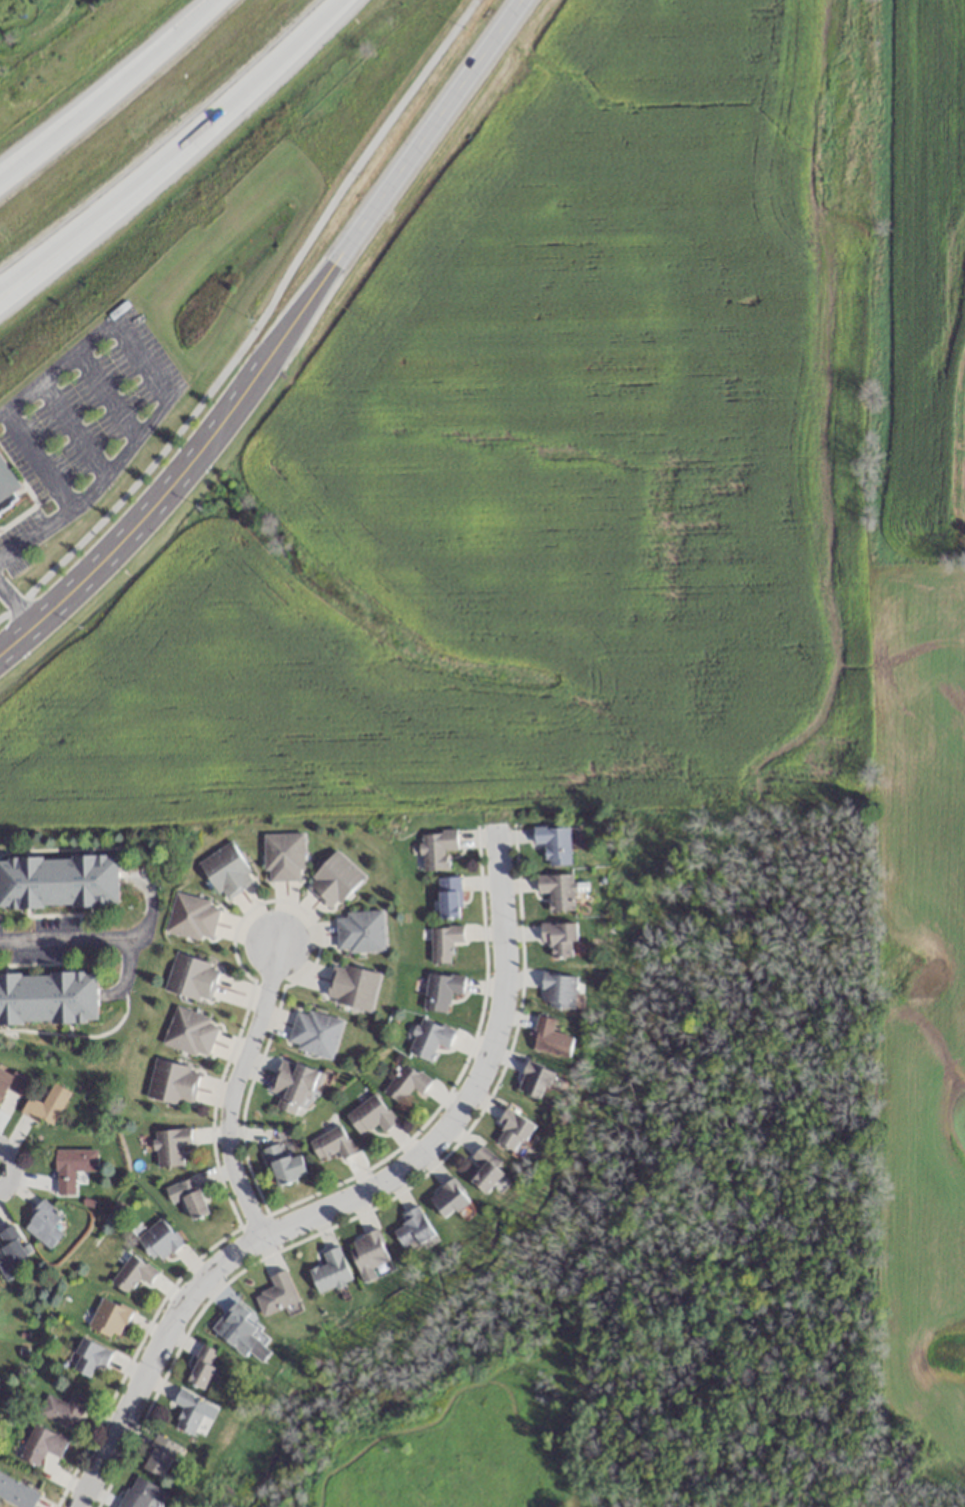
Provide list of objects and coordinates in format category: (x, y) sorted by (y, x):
road: (108, 93)
road: (175, 156)
road: (251, 320)
road: (106, 327)
road: (284, 343)
building: (6, 484)
building: (0, 528)
crop: (609, 529)
road: (36, 533)
road: (16, 605)
building: (554, 843)
building: (436, 849)
building: (283, 857)
building: (226, 871)
building: (58, 881)
building: (334, 881)
building: (557, 891)
building: (448, 897)
building: (192, 917)
building: (360, 932)
building: (559, 938)
road: (103, 939)
building: (443, 943)
road: (125, 974)
building: (191, 978)
building: (353, 987)
building: (558, 990)
building: (441, 991)
building: (48, 997)
building: (189, 1032)
building: (314, 1033)
building: (428, 1038)
building: (550, 1038)
building: (535, 1080)
building: (11, 1082)
building: (172, 1082)
building: (405, 1082)
building: (293, 1087)
road: (235, 1089)
building: (46, 1104)
building: (370, 1115)
building: (513, 1130)
building: (331, 1143)
building: (170, 1146)
building: (284, 1165)
road: (9, 1168)
building: (72, 1168)
building: (486, 1169)
road: (348, 1196)
building: (191, 1199)
building: (448, 1199)
building: (44, 1224)
building: (412, 1228)
park: (645, 1230)
building: (159, 1240)
building: (11, 1252)
building: (368, 1253)
building: (330, 1271)
building: (131, 1273)
building: (276, 1294)
building: (108, 1318)
building: (241, 1332)
building: (88, 1357)
building: (202, 1368)
building: (62, 1410)
building: (192, 1415)
building: (40, 1445)
building: (159, 1456)
building: (16, 1493)
building: (140, 1494)
park: (922, 1498)

